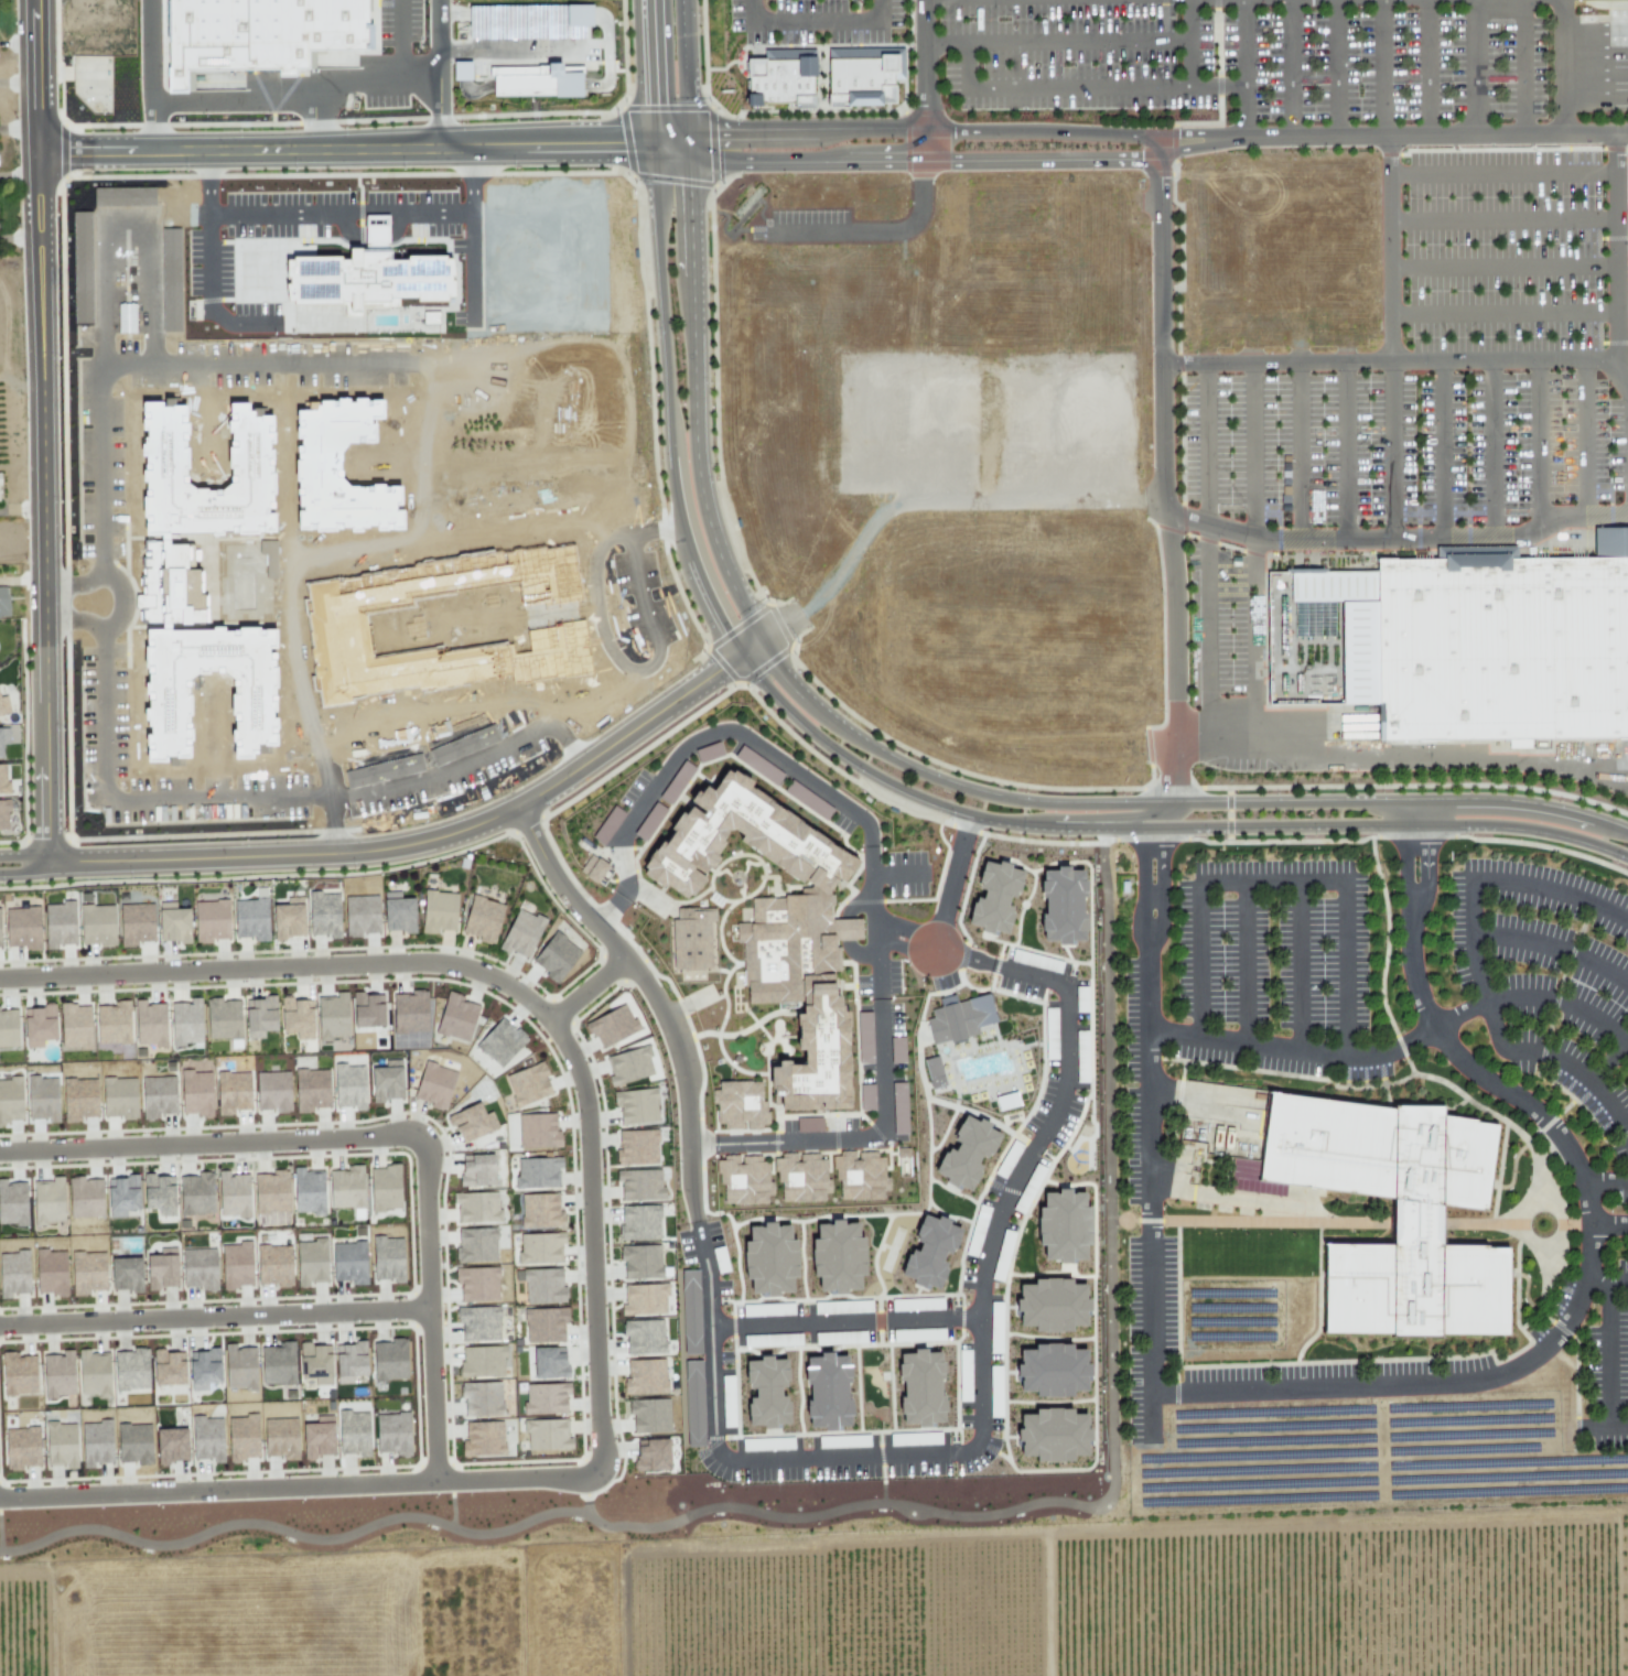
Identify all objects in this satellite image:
road: (752, 11)
road: (883, 11)
road: (818, 22)
building: (262, 34)
road: (1055, 39)
road: (441, 41)
road: (1188, 42)
road: (400, 43)
road: (966, 63)
road: (1522, 65)
road: (1564, 65)
road: (1474, 66)
road: (1336, 67)
road: (1382, 67)
road: (1426, 67)
road: (1247, 68)
road: (1289, 68)
road: (152, 71)
building: (536, 76)
building: (860, 76)
building: (780, 77)
road: (921, 80)
building: (93, 84)
building: (216, 86)
road: (380, 86)
road: (1107, 86)
road: (234, 94)
road: (912, 128)
road: (1395, 134)
road: (347, 139)
road: (346, 158)
road: (913, 161)
road: (1501, 171)
building: (122, 196)
road: (337, 214)
road: (1501, 219)
road: (205, 233)
road: (470, 234)
building: (1626, 237)
road: (1389, 247)
road: (1614, 248)
building: (82, 267)
road: (1501, 267)
building: (366, 274)
building: (170, 279)
road: (37, 312)
road: (1500, 314)
road: (1401, 359)
road: (96, 409)
road: (1587, 437)
road: (1540, 444)
road: (1494, 447)
road: (1442, 450)
road: (1298, 451)
road: (1343, 452)
road: (1394, 452)
building: (338, 469)
road: (1164, 475)
building: (0, 500)
road: (1395, 543)
road: (1206, 549)
road: (1255, 549)
building: (551, 575)
building: (182, 587)
building: (3, 602)
road: (110, 607)
building: (337, 631)
building: (1501, 648)
building: (557, 650)
building: (0, 711)
road: (635, 726)
road: (855, 737)
building: (1518, 744)
road: (44, 745)
building: (0, 747)
road: (839, 753)
road: (1401, 758)
building: (3, 781)
road: (265, 803)
building: (3, 814)
road: (1097, 817)
building: (607, 824)
road: (327, 829)
road: (257, 858)
road: (871, 858)
road: (1405, 865)
road: (1426, 867)
building: (592, 868)
road: (1271, 880)
road: (1144, 885)
road: (1162, 886)
road: (1553, 886)
building: (994, 897)
building: (1061, 906)
building: (439, 911)
building: (397, 912)
building: (323, 913)
road: (942, 913)
building: (360, 915)
building: (288, 917)
building: (250, 918)
building: (482, 919)
building: (211, 920)
building: (173, 921)
building: (58, 923)
building: (136, 923)
building: (775, 923)
building: (97, 924)
building: (22, 928)
building: (521, 932)
building: (692, 938)
building: (0, 939)
road: (1551, 947)
building: (554, 956)
road: (1196, 959)
road: (1246, 962)
road: (1300, 965)
road: (1347, 966)
road: (418, 969)
building: (367, 1012)
building: (408, 1012)
building: (332, 1016)
building: (295, 1017)
building: (455, 1017)
building: (223, 1018)
building: (259, 1018)
building: (958, 1018)
building: (185, 1021)
building: (112, 1023)
building: (149, 1023)
building: (37, 1025)
building: (611, 1025)
building: (75, 1026)
building: (8, 1028)
road: (1499, 1039)
building: (499, 1041)
road: (1400, 1046)
building: (896, 1049)
road: (1609, 1059)
building: (628, 1064)
building: (934, 1072)
building: (386, 1080)
building: (537, 1080)
road: (686, 1080)
building: (433, 1084)
building: (348, 1086)
building: (311, 1089)
building: (233, 1091)
building: (272, 1091)
building: (195, 1092)
building: (158, 1095)
building: (42, 1097)
building: (119, 1097)
building: (79, 1099)
building: (10, 1100)
building: (1006, 1101)
building: (737, 1104)
building: (635, 1105)
building: (898, 1107)
building: (468, 1122)
building: (807, 1124)
building: (537, 1129)
road: (380, 1137)
building: (636, 1147)
building: (966, 1153)
building: (902, 1160)
building: (476, 1169)
building: (537, 1172)
building: (860, 1175)
building: (804, 1178)
building: (745, 1180)
road: (1605, 1182)
building: (639, 1183)
building: (346, 1187)
building: (384, 1187)
building: (309, 1190)
building: (270, 1191)
building: (195, 1193)
building: (159, 1194)
building: (234, 1194)
road: (1147, 1194)
building: (122, 1196)
building: (85, 1197)
building: (47, 1200)
building: (12, 1202)
building: (476, 1205)
building: (542, 1210)
building: (639, 1221)
road: (1608, 1224)
building: (1063, 1225)
building: (1413, 1228)
building: (475, 1244)
building: (539, 1247)
building: (929, 1252)
building: (837, 1256)
building: (387, 1258)
building: (769, 1258)
building: (310, 1261)
building: (640, 1261)
building: (348, 1262)
building: (273, 1264)
building: (236, 1265)
building: (162, 1267)
building: (198, 1268)
building: (51, 1272)
building: (87, 1272)
building: (13, 1273)
building: (126, 1273)
building: (476, 1283)
road: (1606, 1284)
road: (1580, 1297)
building: (644, 1299)
building: (1050, 1305)
building: (690, 1311)
road: (216, 1317)
road: (844, 1322)
building: (545, 1323)
building: (644, 1337)
road: (1609, 1354)
building: (388, 1359)
building: (482, 1361)
building: (349, 1362)
building: (545, 1362)
building: (277, 1363)
building: (314, 1363)
building: (239, 1366)
building: (166, 1367)
building: (204, 1367)
building: (130, 1369)
building: (1052, 1370)
building: (94, 1372)
building: (57, 1373)
building: (18, 1374)
building: (644, 1376)
building: (920, 1387)
building: (766, 1392)
building: (827, 1392)
building: (546, 1397)
building: (481, 1398)
building: (693, 1403)
building: (649, 1415)
road: (980, 1420)
road: (1604, 1425)
building: (353, 1432)
building: (391, 1434)
building: (547, 1434)
building: (1052, 1434)
building: (316, 1435)
building: (280, 1436)
building: (206, 1437)
building: (242, 1437)
building: (483, 1438)
building: (95, 1442)
building: (61, 1443)
building: (133, 1443)
building: (170, 1443)
building: (22, 1447)
building: (651, 1453)
road: (530, 1481)

